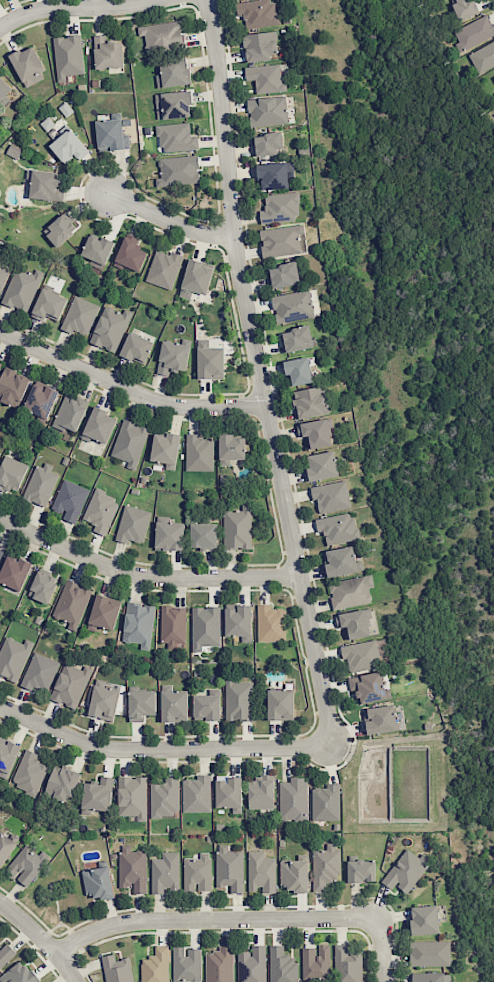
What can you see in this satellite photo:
road: (77, 8)
building: (464, 8)
building: (257, 13)
building: (473, 33)
building: (162, 35)
building: (259, 46)
building: (107, 53)
building: (68, 56)
building: (482, 57)
building: (28, 66)
building: (172, 73)
building: (265, 78)
building: (4, 90)
building: (173, 105)
building: (267, 111)
building: (112, 134)
building: (176, 138)
building: (267, 143)
building: (68, 146)
building: (178, 170)
building: (274, 175)
building: (45, 186)
building: (280, 208)
road: (169, 221)
building: (60, 229)
building: (282, 241)
building: (97, 249)
building: (130, 255)
building: (163, 269)
building: (284, 275)
building: (3, 276)
building: (196, 278)
building: (21, 289)
building: (48, 305)
building: (292, 306)
building: (79, 316)
crop: (418, 326)
building: (110, 328)
building: (295, 339)
building: (136, 348)
building: (172, 357)
building: (209, 361)
building: (0, 363)
building: (298, 370)
road: (259, 375)
building: (12, 387)
road: (128, 390)
building: (40, 400)
building: (310, 402)
building: (70, 412)
building: (99, 426)
building: (315, 433)
building: (129, 443)
building: (165, 449)
building: (231, 449)
building: (0, 452)
building: (199, 453)
building: (322, 466)
building: (11, 474)
building: (41, 484)
building: (331, 496)
building: (70, 500)
building: (101, 511)
building: (132, 525)
building: (237, 528)
building: (337, 528)
building: (203, 535)
building: (169, 536)
building: (0, 553)
building: (340, 562)
building: (14, 572)
road: (145, 572)
building: (43, 586)
building: (350, 591)
building: (71, 604)
building: (103, 613)
building: (239, 622)
building: (270, 623)
building: (354, 623)
building: (138, 624)
building: (173, 626)
building: (205, 627)
building: (361, 655)
building: (13, 657)
building: (39, 672)
building: (70, 685)
building: (369, 687)
building: (238, 700)
building: (103, 702)
building: (141, 704)
building: (280, 704)
building: (174, 706)
building: (207, 707)
building: (379, 719)
road: (162, 748)
building: (7, 757)
building: (29, 773)
building: (62, 784)
building: (261, 792)
building: (229, 793)
building: (196, 794)
building: (97, 795)
building: (132, 797)
building: (164, 798)
building: (293, 800)
building: (325, 803)
building: (5, 847)
building: (26, 865)
building: (325, 867)
building: (229, 868)
building: (132, 869)
building: (361, 871)
building: (405, 871)
building: (261, 872)
building: (165, 873)
building: (197, 873)
building: (294, 875)
building: (98, 882)
road: (211, 919)
building: (424, 920)
road: (41, 938)
road: (383, 949)
building: (429, 953)
building: (5, 954)
building: (186, 964)
building: (316, 964)
building: (219, 965)
building: (252, 965)
building: (281, 965)
building: (347, 965)
building: (155, 966)
building: (116, 969)
building: (18, 974)
building: (430, 977)

